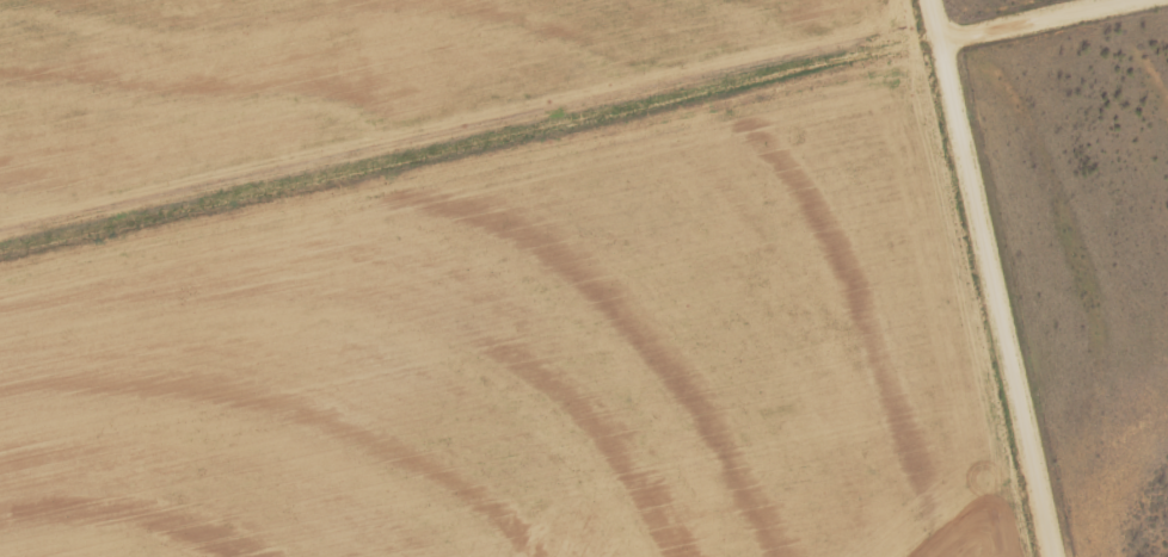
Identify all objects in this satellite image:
road: (1037, 21)
road: (960, 280)

